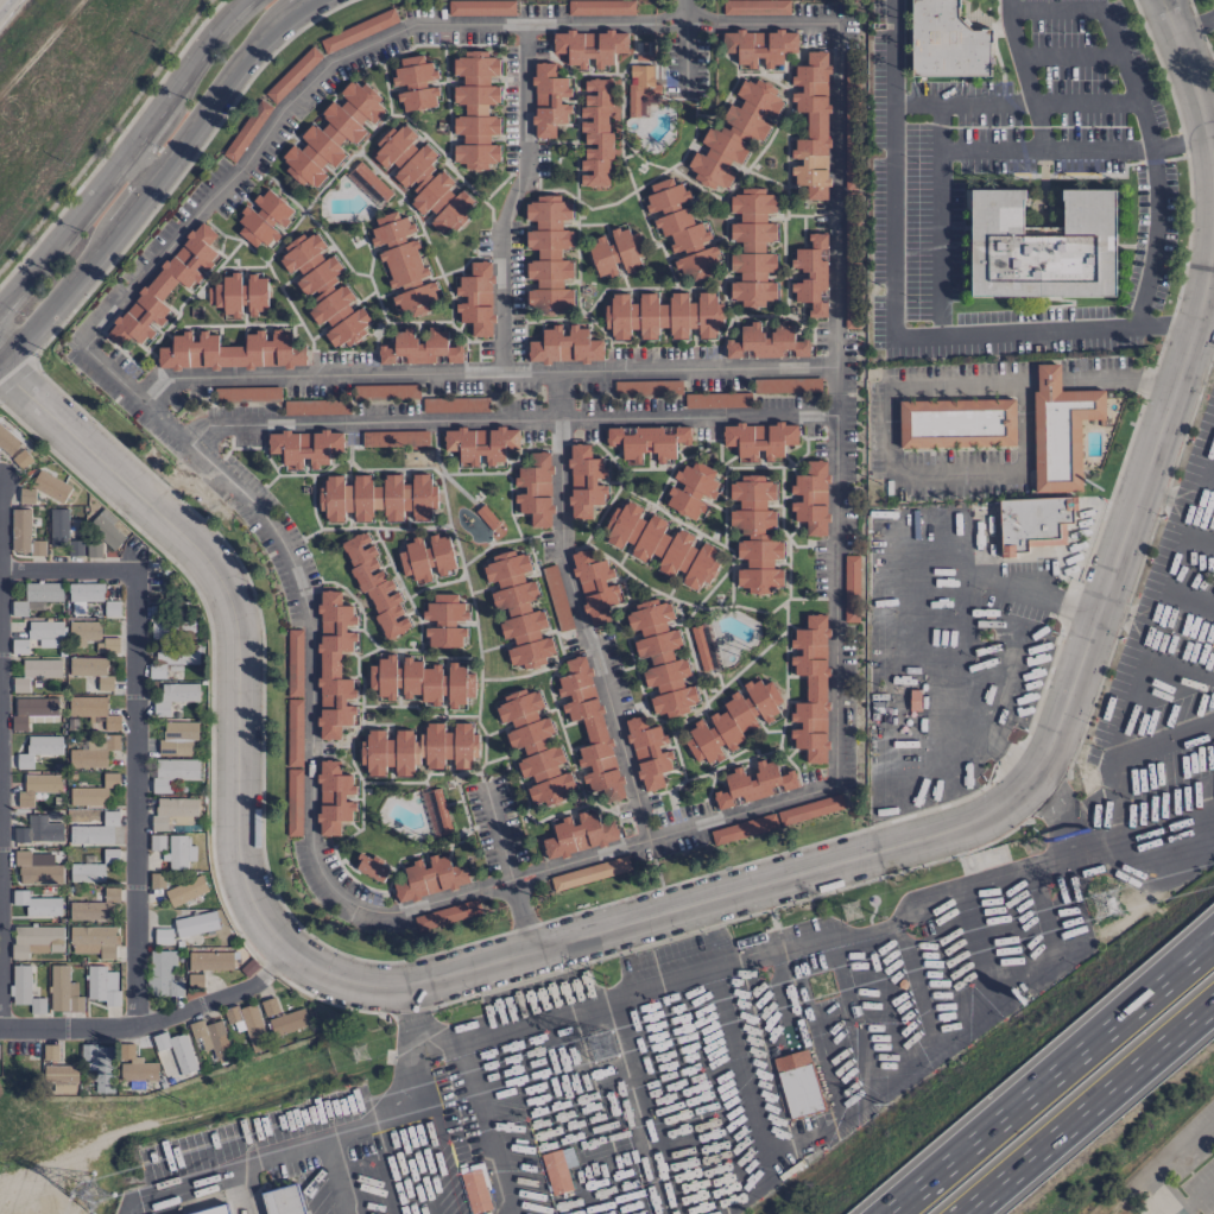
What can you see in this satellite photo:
road: (4, 5)
road: (298, 6)
building: (482, 7)
building: (600, 7)
building: (754, 7)
road: (1195, 25)
building: (358, 31)
building: (946, 42)
building: (589, 46)
building: (759, 46)
road: (200, 51)
road: (684, 58)
building: (413, 83)
road: (1193, 86)
building: (641, 89)
road: (216, 93)
building: (549, 100)
road: (962, 105)
road: (1139, 109)
building: (475, 110)
building: (811, 125)
road: (1038, 127)
road: (143, 131)
building: (595, 133)
building: (733, 134)
building: (331, 135)
road: (1212, 137)
road: (1178, 146)
road: (1043, 150)
building: (852, 156)
road: (139, 166)
building: (423, 179)
building: (369, 182)
road: (134, 202)
road: (76, 215)
building: (264, 219)
road: (938, 220)
building: (681, 228)
building: (1042, 246)
building: (752, 247)
building: (615, 252)
building: (548, 253)
building: (403, 263)
building: (811, 276)
building: (165, 286)
road: (13, 290)
building: (324, 290)
building: (239, 295)
building: (851, 295)
road: (58, 296)
building: (476, 298)
road: (1208, 304)
building: (663, 316)
road: (892, 316)
building: (766, 343)
building: (564, 346)
building: (418, 348)
building: (230, 352)
road: (693, 369)
road: (320, 377)
road: (1048, 377)
road: (1117, 380)
building: (375, 392)
building: (242, 393)
road: (133, 394)
road: (558, 411)
road: (508, 419)
building: (956, 423)
building: (1060, 429)
building: (394, 438)
building: (759, 438)
building: (7, 441)
building: (649, 442)
building: (481, 444)
building: (304, 448)
building: (21, 459)
road: (890, 462)
building: (584, 481)
building: (50, 486)
building: (690, 489)
building: (535, 491)
road: (1138, 492)
building: (26, 495)
building: (377, 498)
building: (810, 498)
building: (488, 520)
building: (1033, 523)
building: (106, 529)
building: (62, 531)
building: (24, 533)
building: (755, 535)
building: (662, 544)
road: (835, 546)
building: (426, 557)
road: (68, 569)
building: (375, 586)
building: (594, 587)
building: (851, 588)
building: (84, 595)
building: (37, 597)
road: (1171, 599)
building: (112, 608)
building: (518, 609)
road: (232, 614)
building: (444, 621)
building: (167, 625)
building: (83, 632)
building: (45, 633)
road: (961, 634)
building: (107, 645)
building: (19, 646)
building: (704, 646)
building: (172, 657)
building: (660, 658)
building: (334, 664)
building: (36, 672)
building: (91, 672)
building: (422, 682)
building: (810, 689)
building: (175, 696)
building: (293, 696)
building: (31, 709)
building: (94, 712)
building: (733, 720)
building: (589, 728)
building: (177, 738)
building: (535, 747)
building: (38, 750)
building: (418, 750)
building: (90, 751)
building: (647, 753)
building: (172, 772)
road: (1124, 782)
building: (753, 784)
building: (38, 788)
building: (94, 791)
road: (134, 797)
building: (333, 798)
road: (0, 799)
building: (293, 802)
building: (809, 809)
building: (172, 810)
building: (435, 811)
building: (744, 829)
building: (38, 830)
building: (95, 830)
building: (578, 834)
building: (157, 842)
building: (178, 851)
building: (110, 854)
building: (372, 867)
building: (37, 868)
building: (87, 872)
building: (589, 873)
building: (430, 877)
building: (157, 880)
building: (185, 890)
building: (37, 904)
power tower: (1108, 904)
building: (96, 908)
road: (689, 908)
power tower: (853, 912)
road: (1032, 913)
building: (447, 915)
building: (195, 924)
building: (163, 936)
building: (37, 941)
building: (93, 941)
road: (793, 944)
building: (210, 961)
building: (248, 968)
building: (163, 973)
building: (195, 981)
power tower: (614, 982)
building: (20, 985)
building: (102, 985)
power tower: (823, 986)
building: (63, 991)
road: (602, 997)
building: (37, 1006)
road: (153, 1020)
building: (287, 1022)
building: (248, 1025)
building: (213, 1036)
building: (176, 1050)
building: (50, 1051)
power tower: (360, 1054)
building: (101, 1066)
building: (135, 1066)
building: (61, 1074)
road: (1052, 1076)
building: (797, 1083)
power tower: (191, 1106)
road: (625, 1106)
road: (1086, 1106)
road: (321, 1139)
road: (1163, 1165)
building: (557, 1169)
road: (335, 1176)
building: (474, 1187)
road: (241, 1190)
road: (1196, 1196)
building: (283, 1201)
building: (216, 1210)
power tower: (56, 1213)

